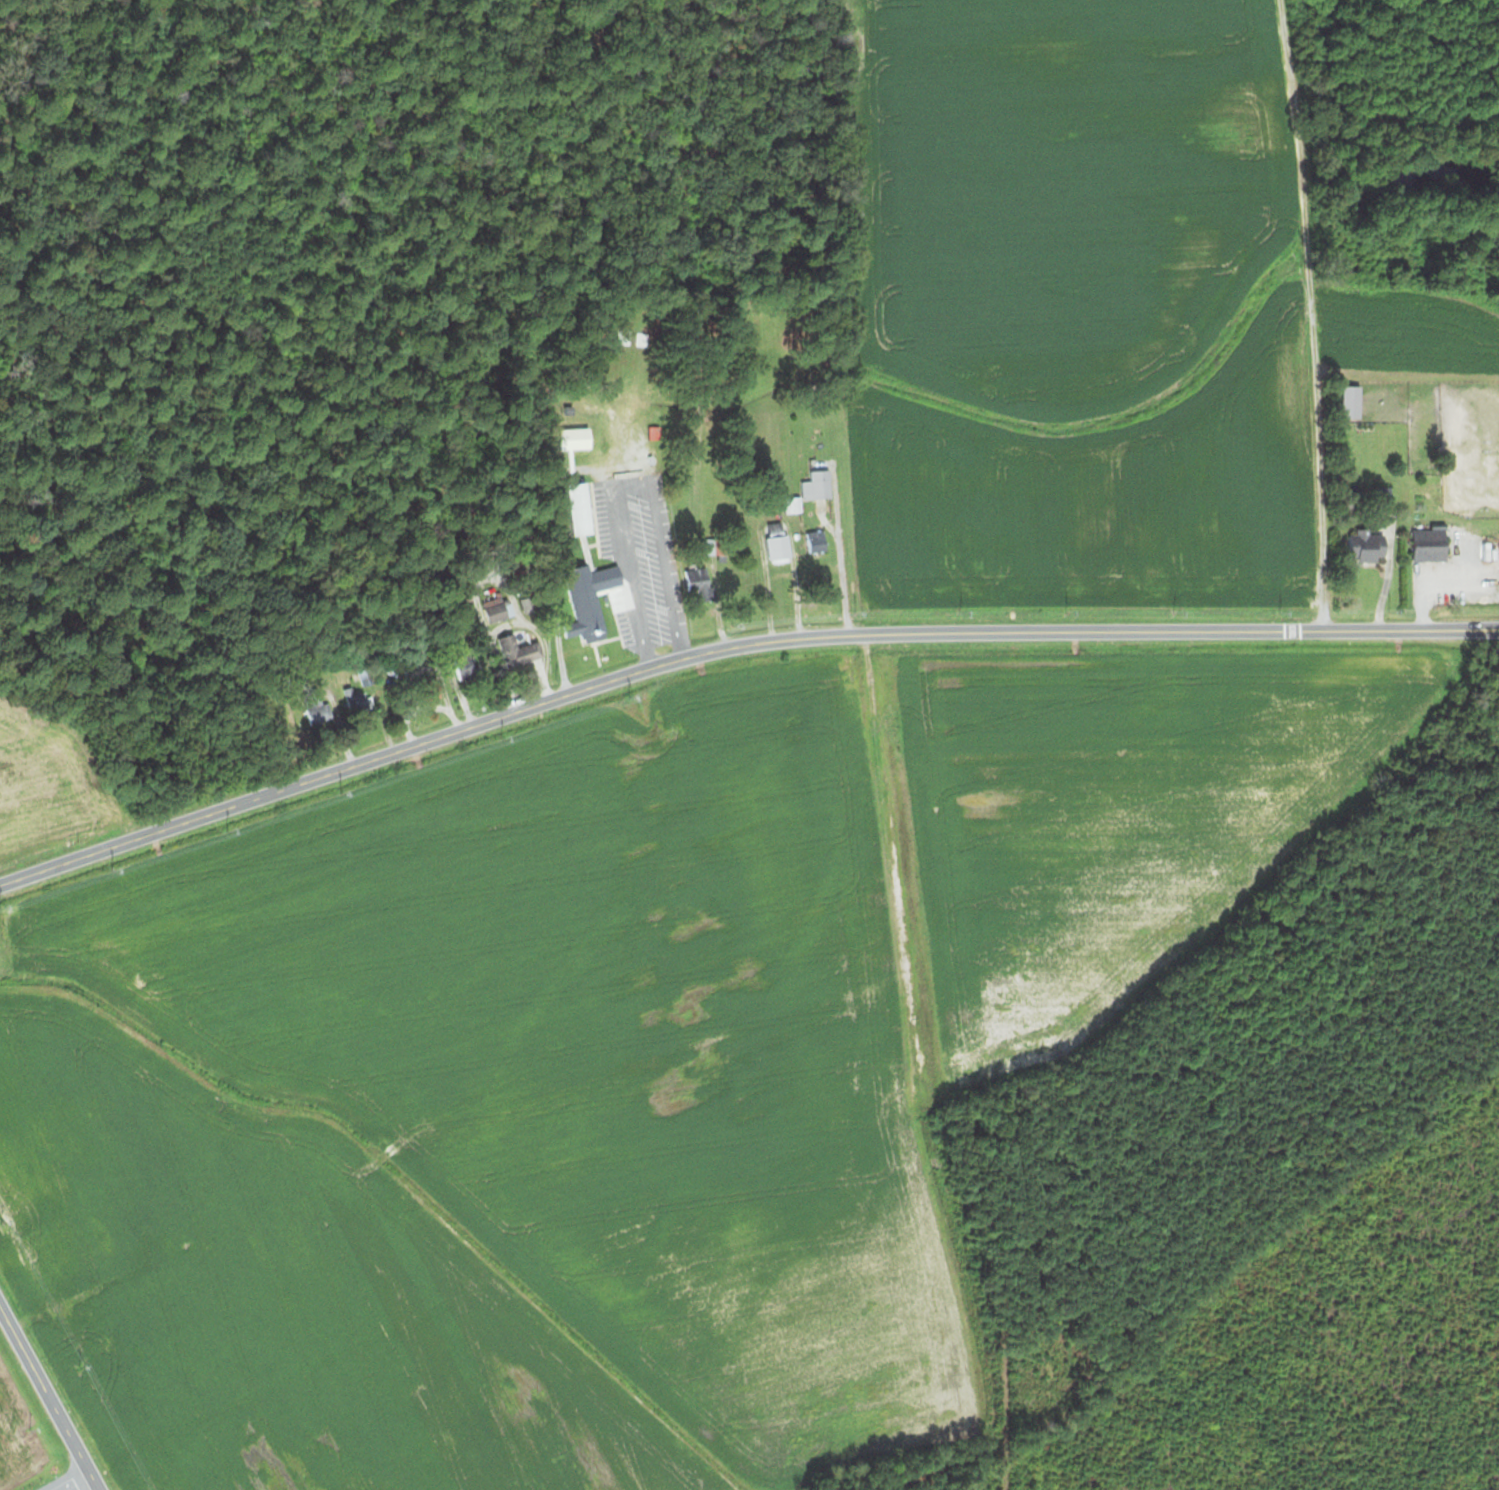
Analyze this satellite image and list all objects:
road: (1306, 314)
road: (626, 484)
building: (812, 484)
building: (1377, 497)
building: (1432, 516)
building: (811, 540)
building: (772, 541)
building: (1360, 546)
building: (579, 567)
road: (837, 568)
building: (693, 582)
building: (664, 583)
building: (490, 612)
road: (731, 646)
building: (513, 650)
building: (463, 667)
building: (352, 697)
building: (310, 706)
road: (48, 1396)
road: (72, 1481)

